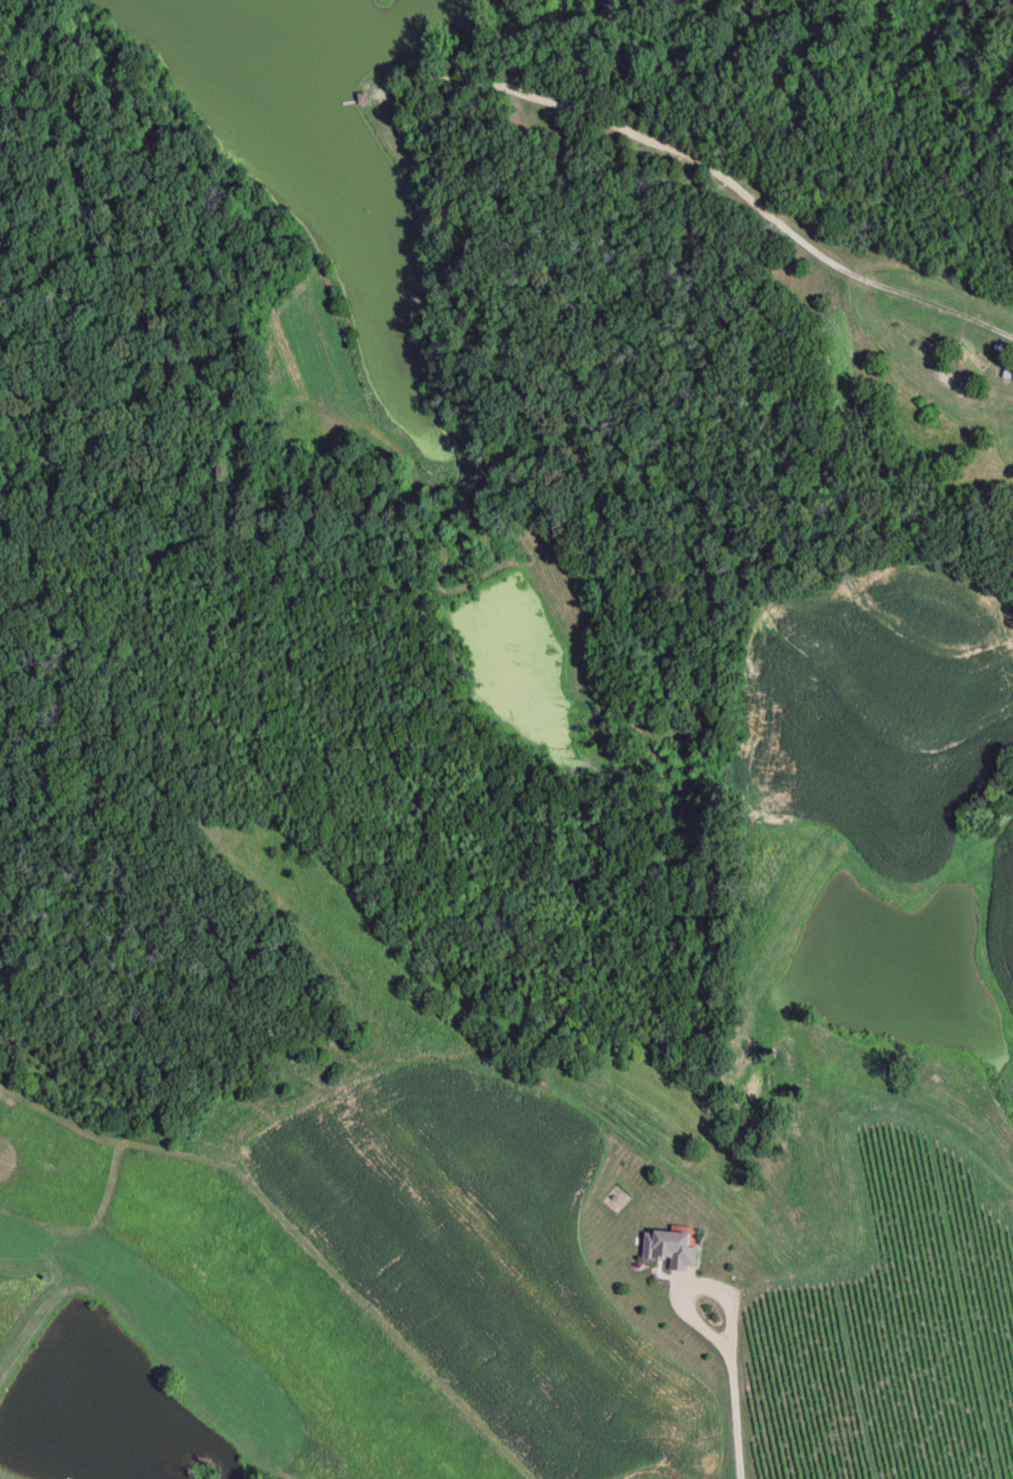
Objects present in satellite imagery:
building: (1009, 373)
building: (672, 1252)

